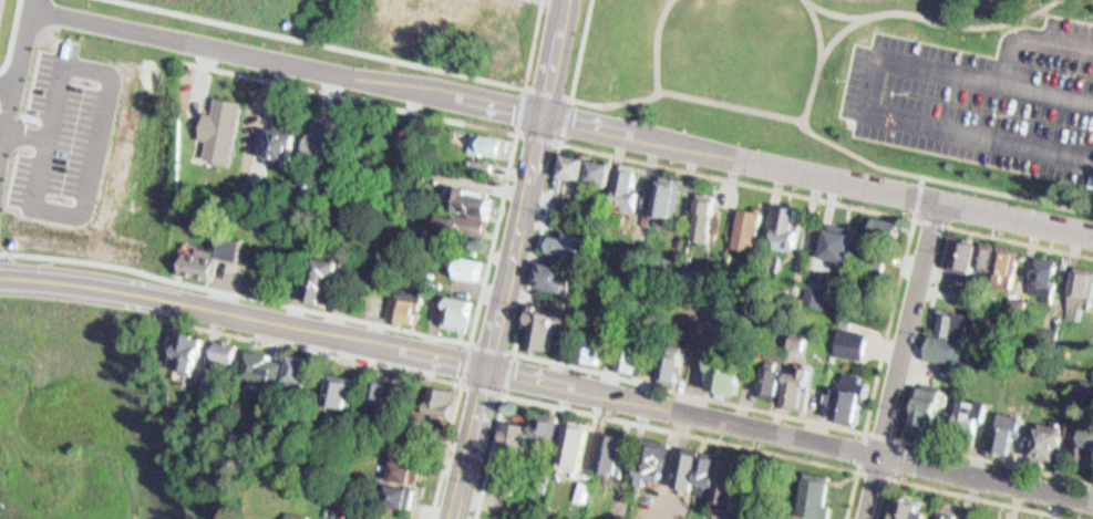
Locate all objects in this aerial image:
building: (0, 2)
road: (934, 20)
road: (1030, 27)
road: (844, 32)
road: (319, 43)
road: (535, 43)
road: (661, 43)
road: (558, 45)
road: (824, 59)
road: (287, 61)
park: (734, 62)
road: (18, 76)
road: (872, 84)
parking lot: (983, 90)
road: (546, 103)
road: (524, 107)
road: (790, 114)
road: (567, 118)
building: (217, 125)
road: (3, 131)
parking lot: (66, 135)
building: (272, 139)
building: (483, 139)
building: (317, 143)
building: (395, 145)
building: (283, 146)
building: (569, 159)
building: (596, 165)
building: (577, 172)
building: (605, 174)
road: (817, 176)
building: (623, 178)
building: (662, 191)
building: (463, 197)
building: (671, 199)
building: (702, 208)
road: (914, 208)
building: (785, 220)
building: (746, 222)
building: (888, 222)
building: (834, 232)
building: (565, 237)
building: (959, 248)
building: (210, 251)
building: (982, 251)
building: (878, 258)
building: (464, 261)
building: (1001, 263)
building: (317, 272)
building: (553, 273)
building: (1040, 273)
building: (330, 277)
building: (1077, 286)
building: (815, 287)
building: (403, 298)
building: (453, 305)
building: (409, 308)
road: (483, 308)
building: (463, 312)
road: (502, 316)
building: (542, 324)
building: (942, 329)
building: (797, 335)
building: (850, 335)
building: (594, 343)
building: (225, 346)
building: (188, 347)
building: (203, 349)
road: (917, 349)
building: (238, 350)
road: (522, 355)
building: (638, 359)
road: (903, 361)
building: (669, 362)
building: (265, 363)
building: (681, 363)
building: (298, 365)
road: (399, 367)
building: (312, 371)
building: (734, 371)
building: (770, 373)
road: (547, 380)
building: (778, 380)
building: (210, 384)
building: (806, 386)
building: (221, 387)
building: (340, 387)
building: (380, 387)
building: (794, 388)
road: (507, 391)
building: (352, 393)
building: (439, 394)
building: (845, 398)
building: (969, 402)
building: (922, 405)
building: (935, 407)
building: (975, 412)
road: (645, 422)
building: (1006, 425)
building: (527, 428)
building: (550, 433)
building: (1043, 436)
building: (1083, 436)
building: (570, 440)
building: (1054, 443)
building: (581, 445)
building: (610, 445)
building: (654, 451)
building: (404, 461)
building: (685, 463)
building: (705, 466)
building: (417, 469)
road: (895, 478)
building: (509, 480)
building: (724, 480)
building: (398, 489)
building: (815, 490)
road: (968, 495)
building: (906, 507)
building: (946, 511)
building: (301, 513)
building: (317, 515)
building: (983, 516)
building: (1027, 517)

